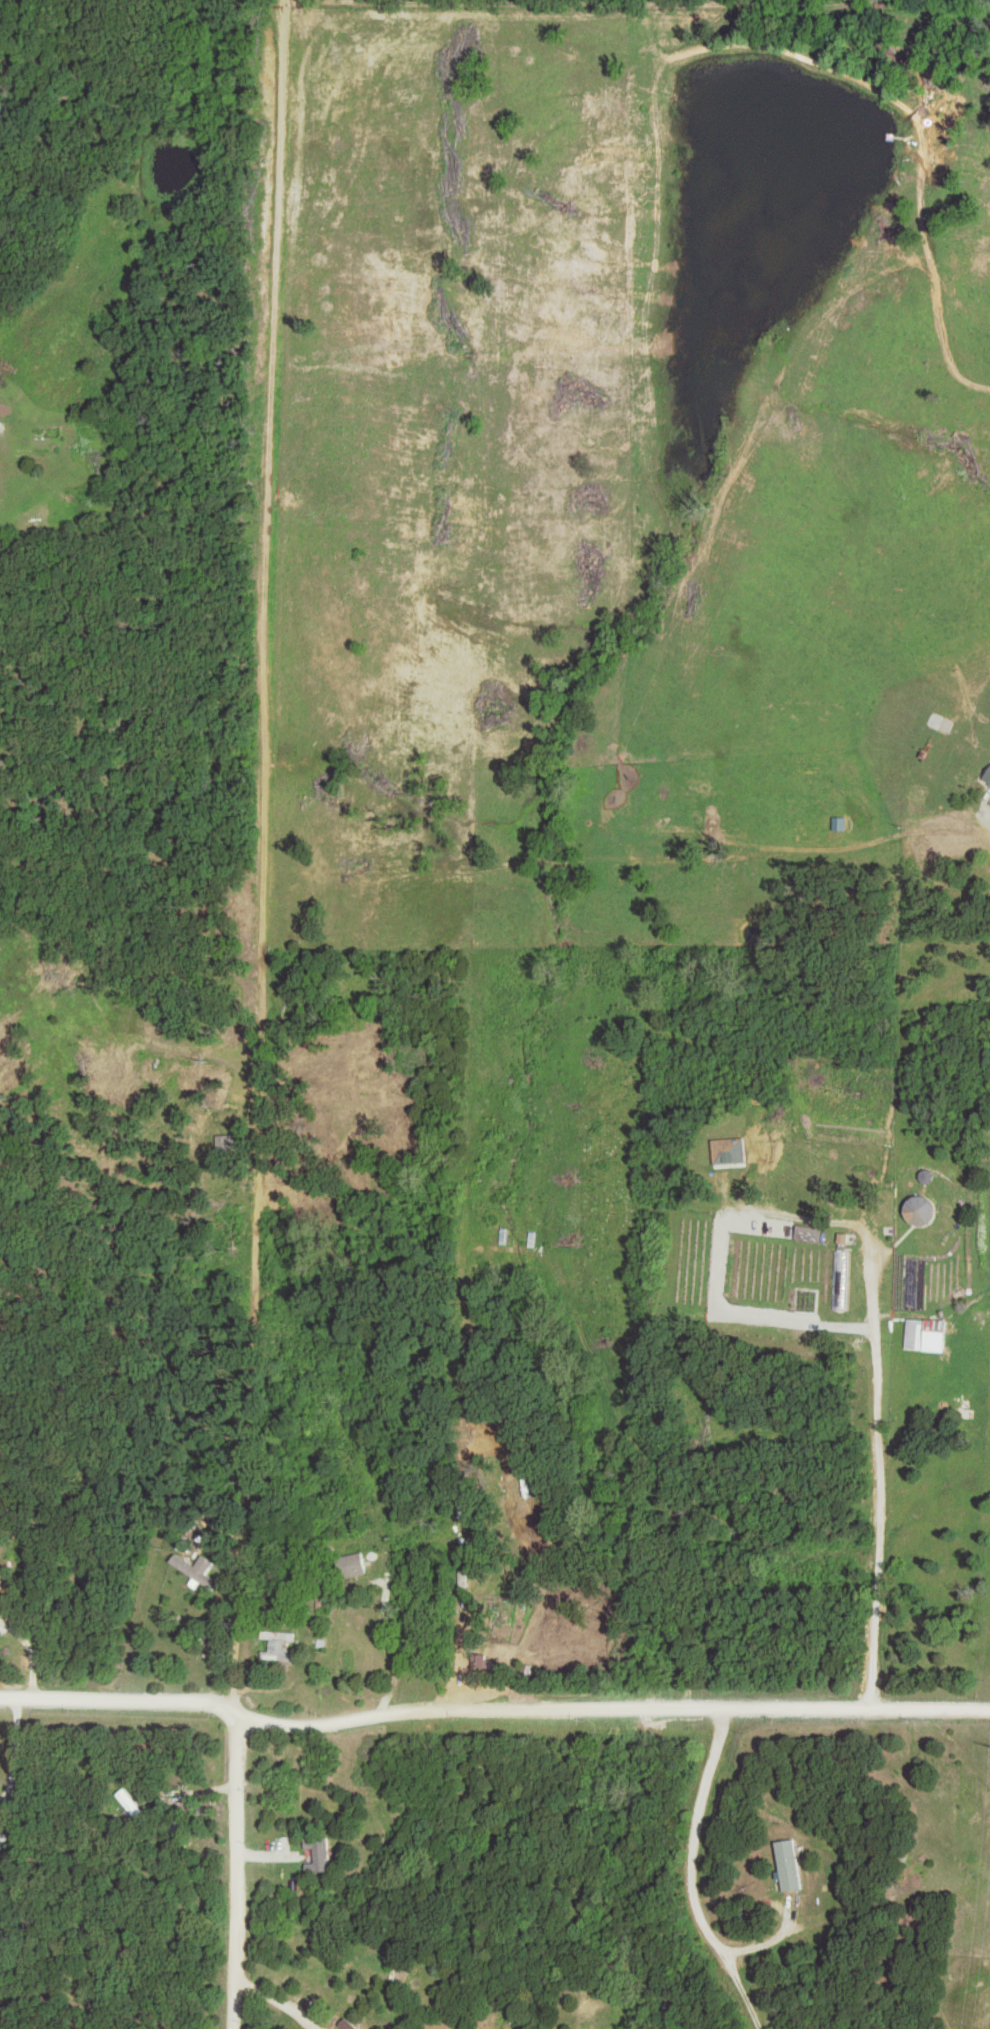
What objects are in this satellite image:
building: (729, 1151)
building: (918, 1209)
building: (934, 1335)
building: (198, 1569)
building: (279, 1637)
road: (491, 1709)
road: (239, 1802)
building: (318, 1855)

